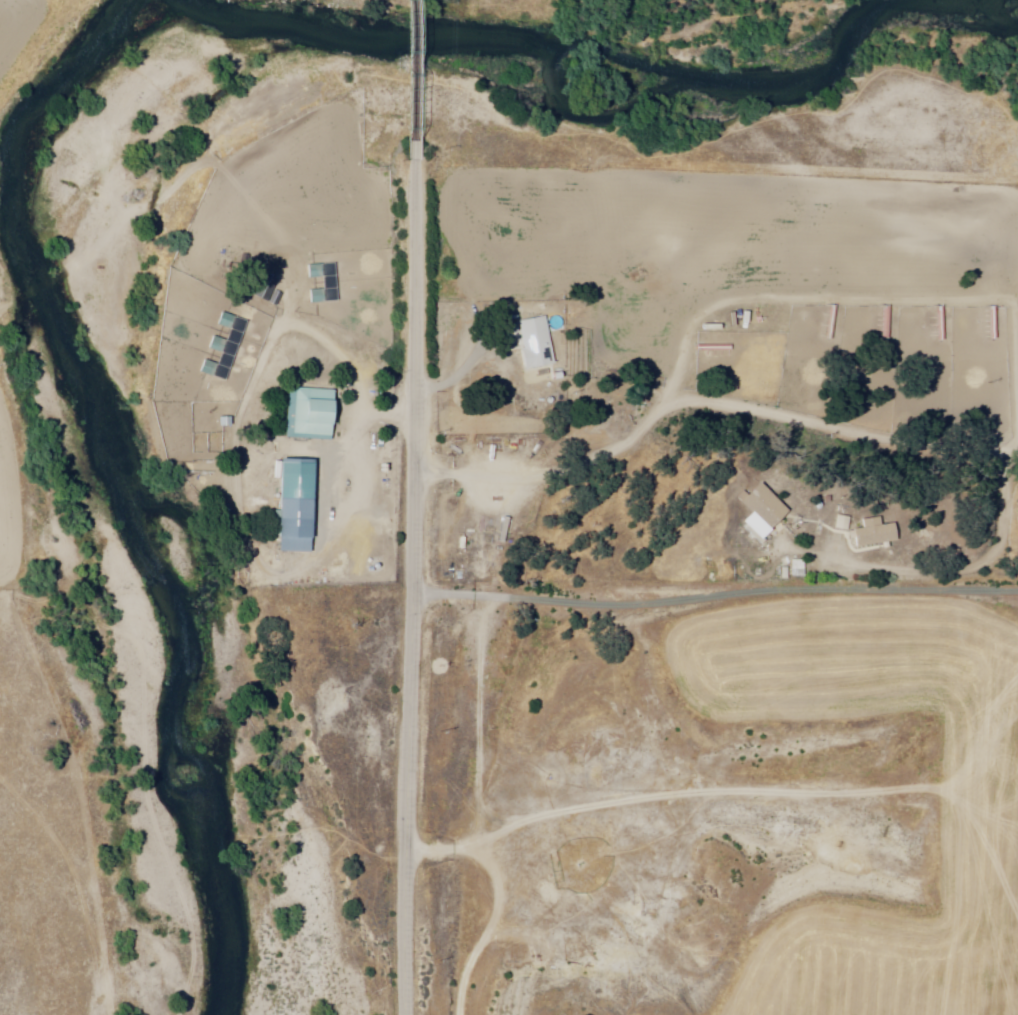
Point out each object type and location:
river: (539, 23)
river: (461, 25)
river: (389, 49)
road: (412, 79)
road: (715, 310)
river: (99, 335)
building: (531, 342)
building: (307, 415)
river: (116, 491)
building: (292, 507)
building: (759, 511)
building: (872, 533)
road: (412, 587)
road: (668, 801)
river: (158, 897)
crop: (916, 918)
river: (190, 1013)

